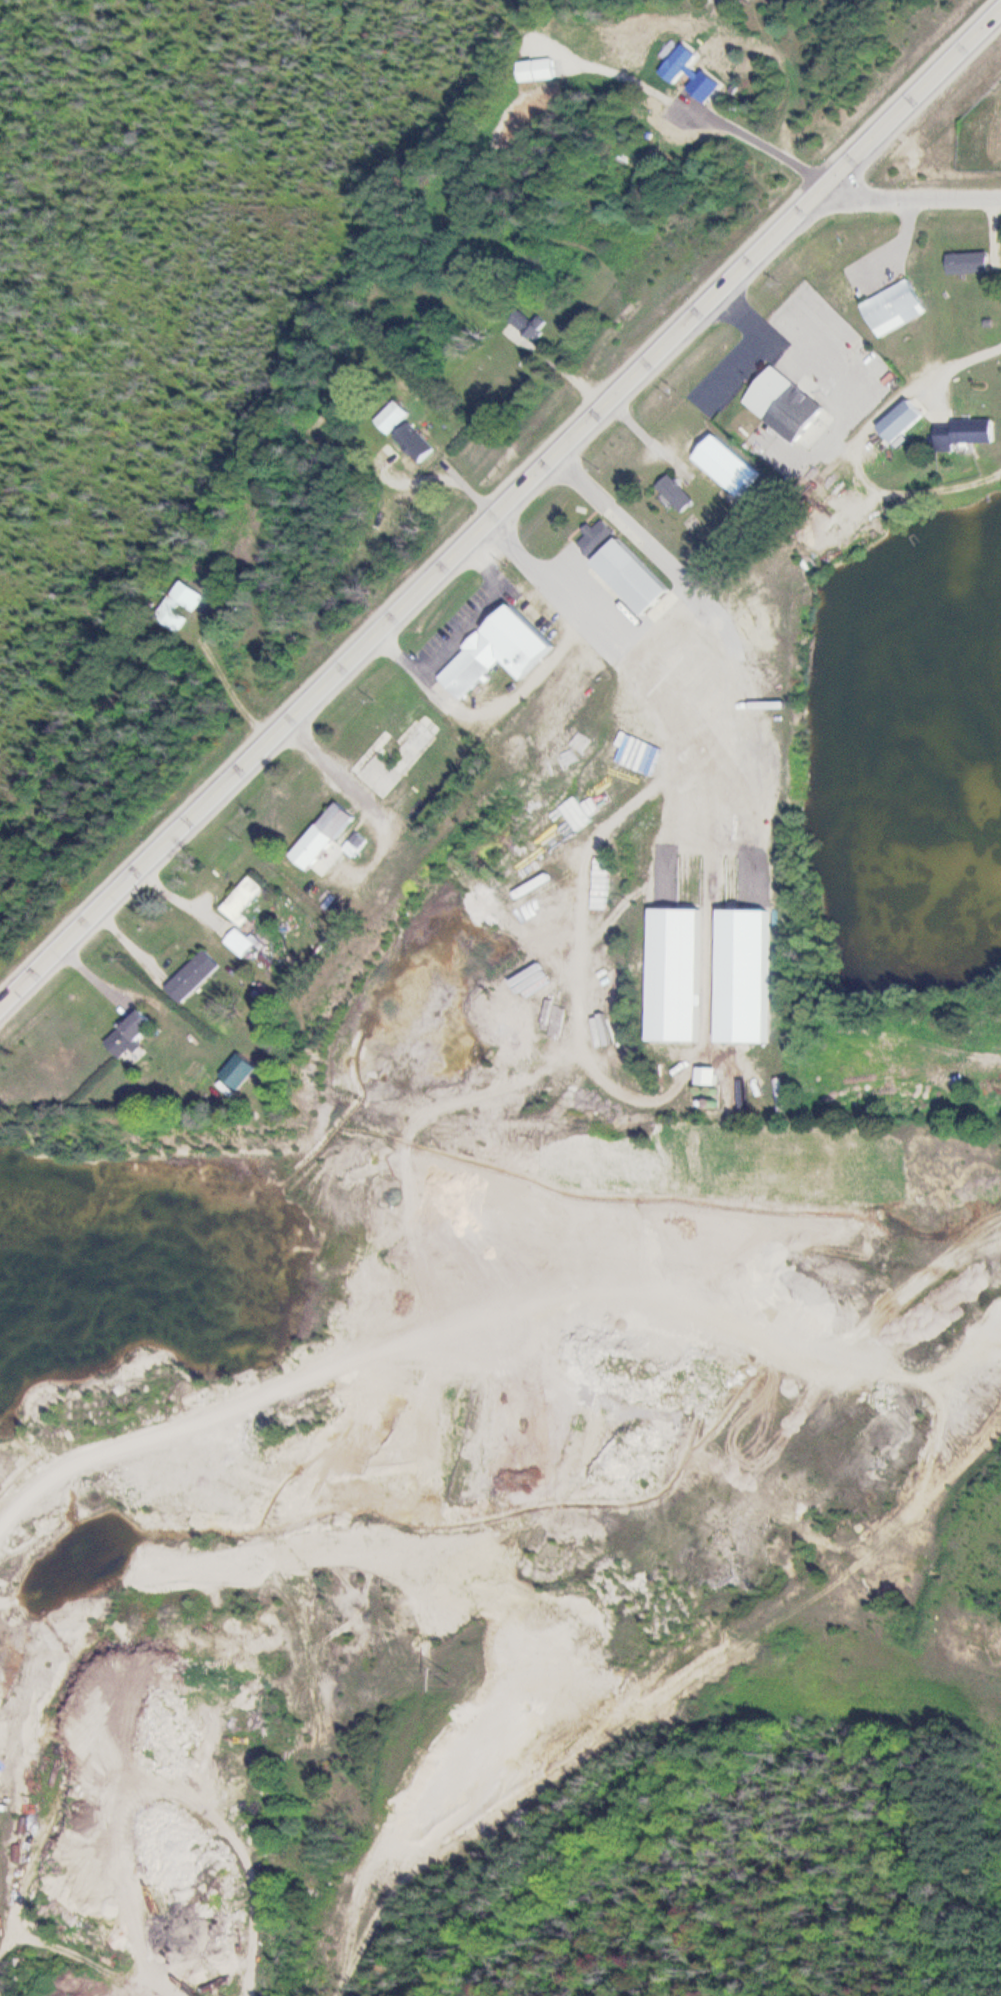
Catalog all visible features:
building: (676, 64)
building: (542, 71)
road: (908, 198)
building: (972, 263)
building: (898, 308)
building: (532, 324)
building: (788, 405)
building: (394, 417)
building: (908, 420)
building: (967, 433)
building: (679, 493)
road: (501, 513)
building: (600, 538)
building: (224, 577)
building: (639, 577)
building: (183, 606)
building: (504, 651)
building: (399, 760)
building: (328, 840)
building: (361, 847)
building: (291, 883)
building: (245, 901)
building: (244, 943)
building: (683, 975)
building: (751, 976)
building: (195, 977)
building: (134, 1034)
building: (244, 1071)
building: (716, 1077)
road: (251, 1400)
quarry: (474, 1512)

